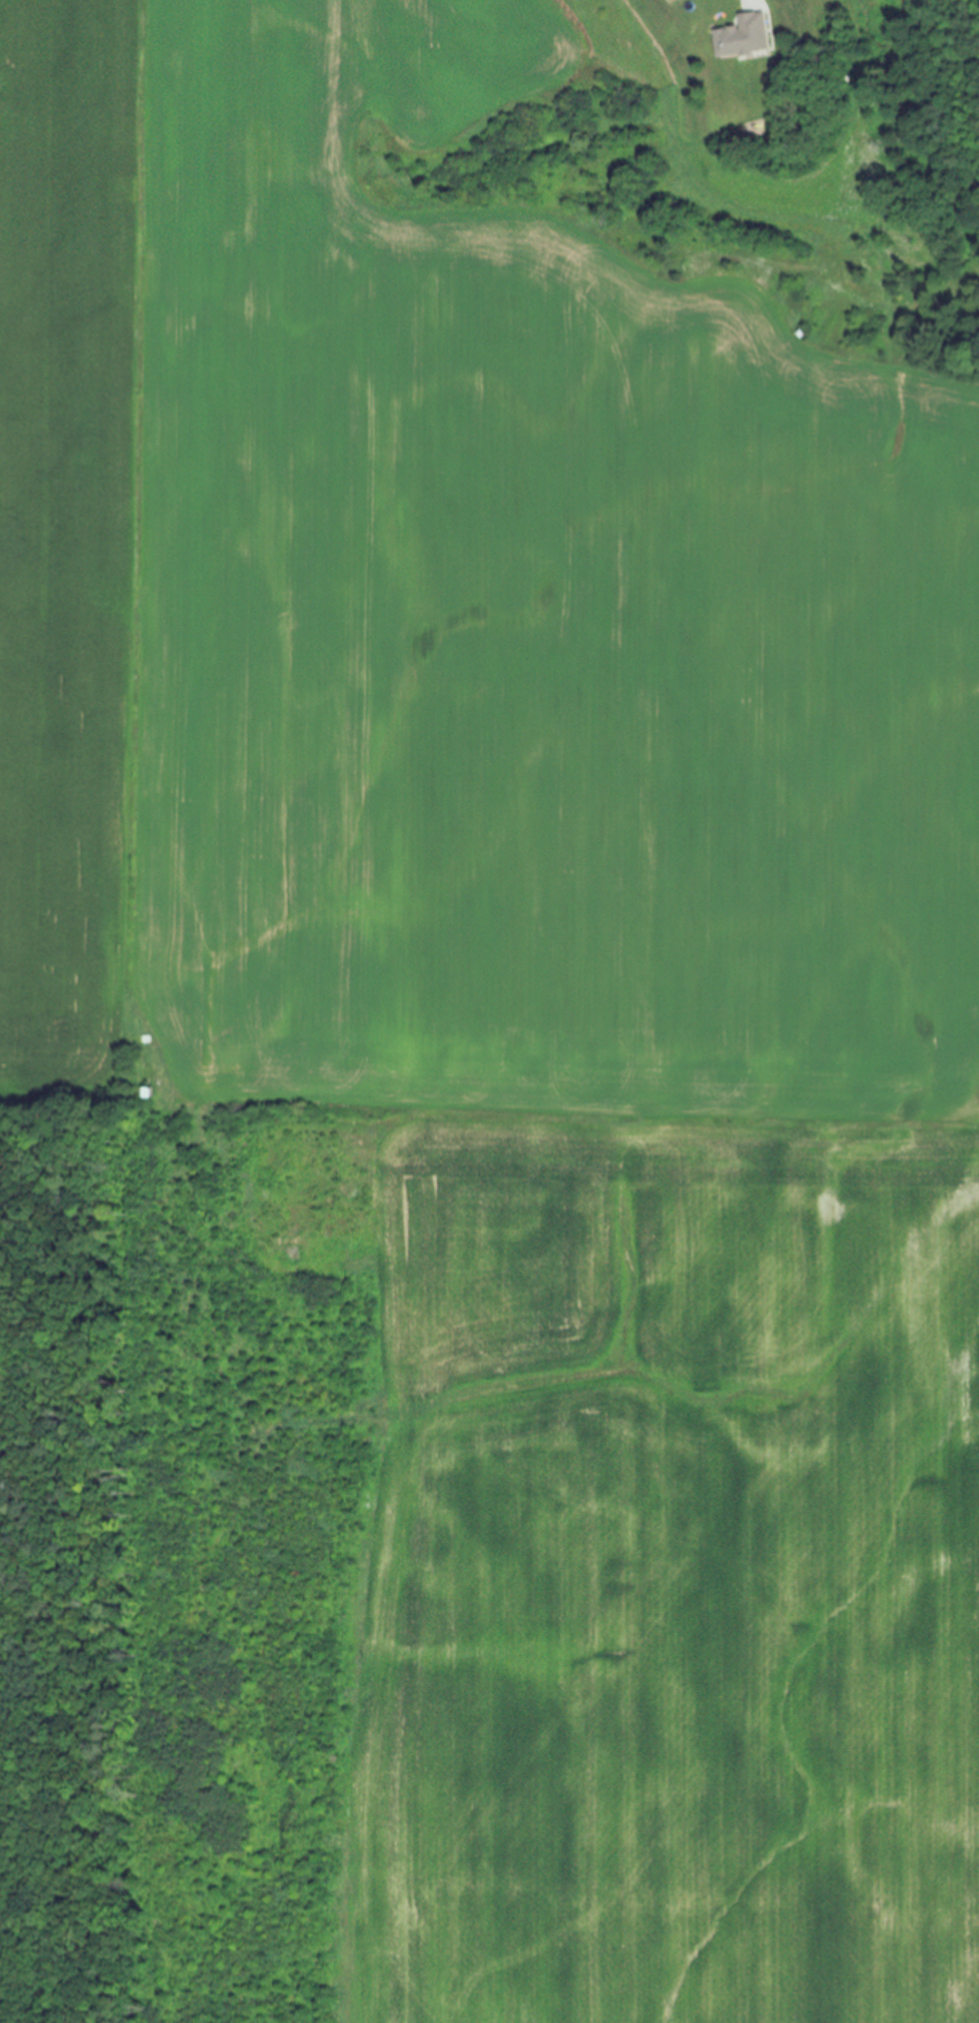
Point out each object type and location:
building: (739, 38)

